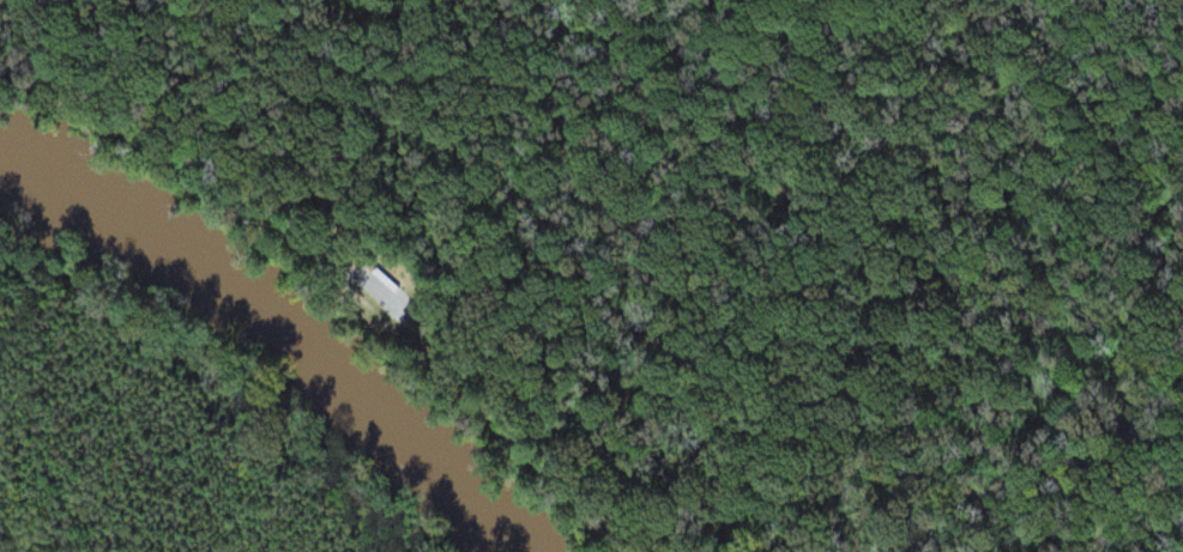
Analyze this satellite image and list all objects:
river: (284, 334)

